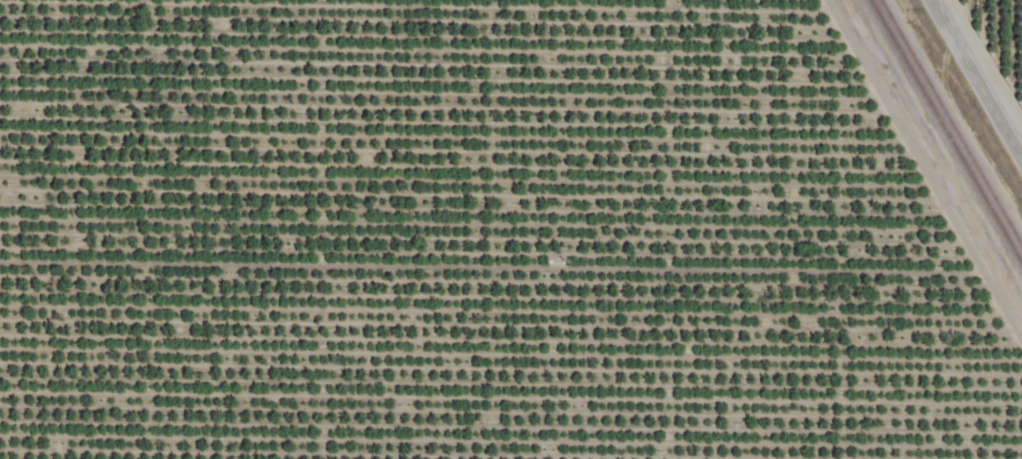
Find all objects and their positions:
road: (978, 76)
railway: (949, 127)
railway: (943, 136)
crop: (511, 229)

